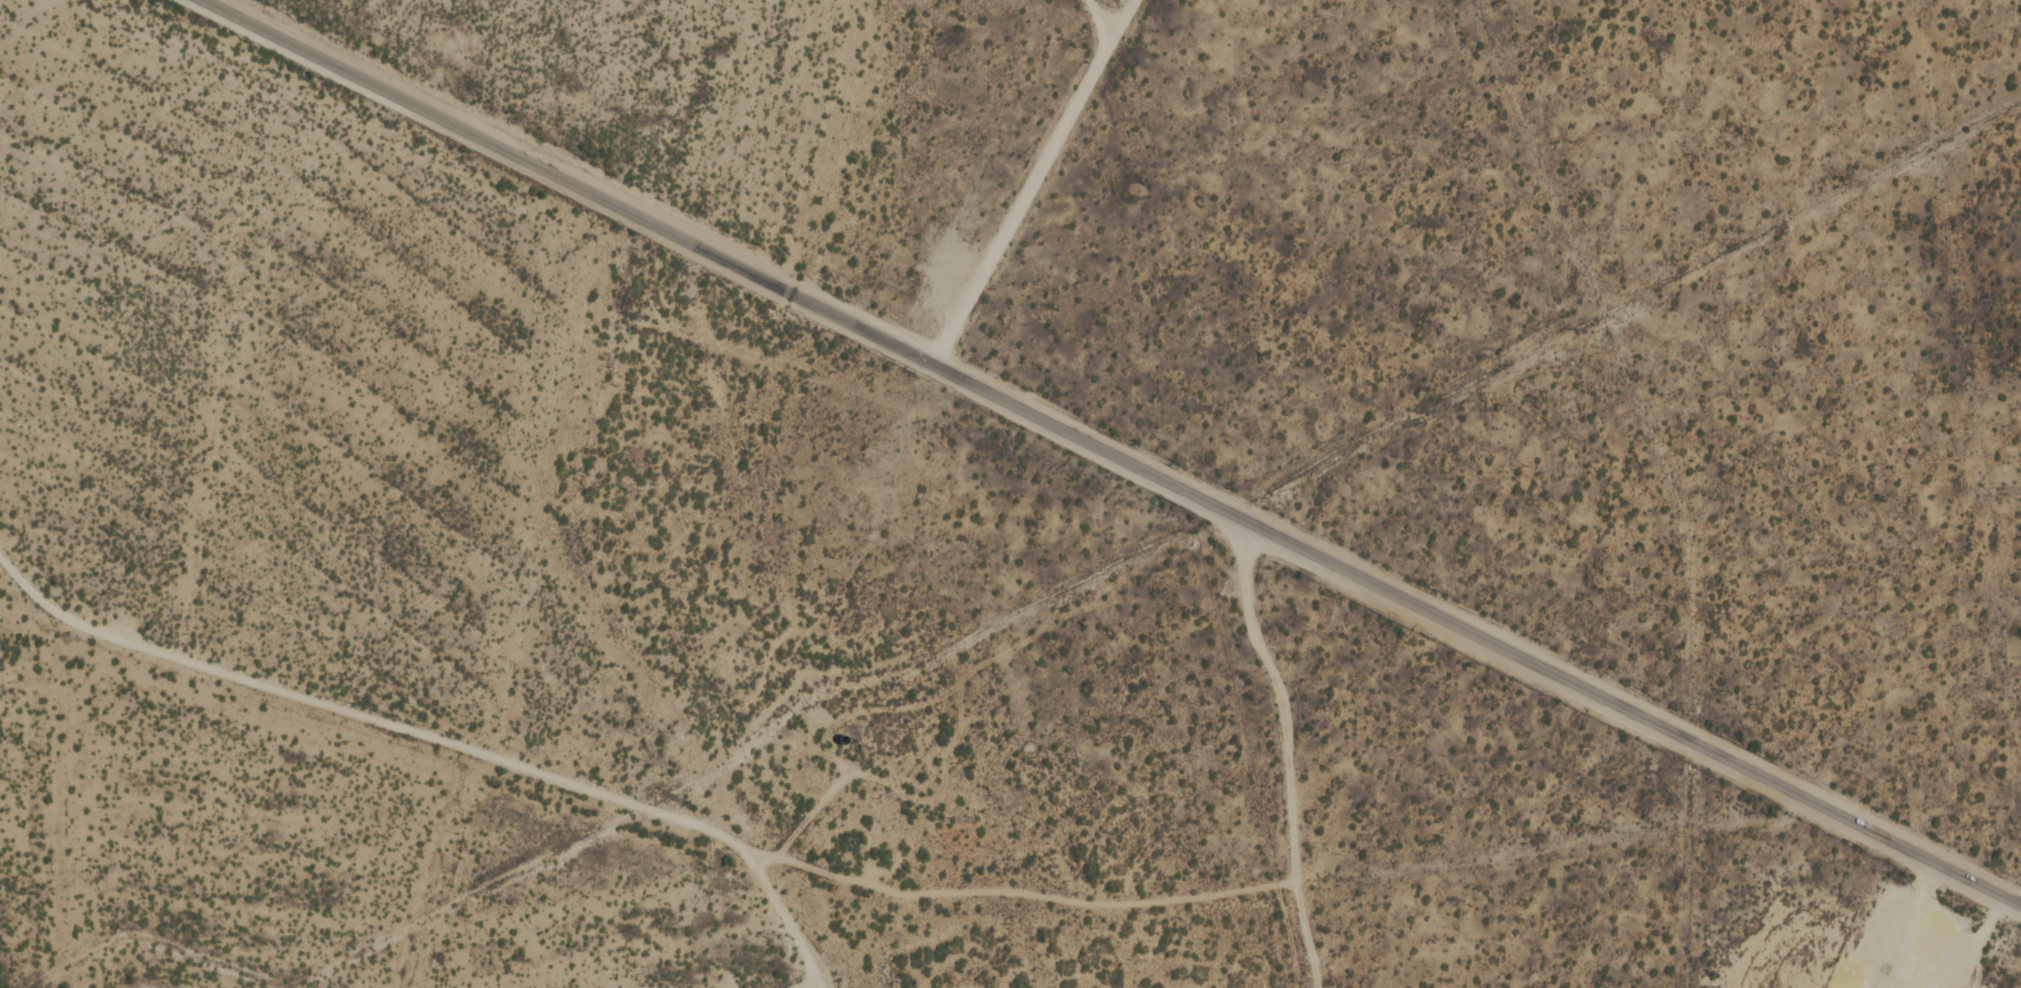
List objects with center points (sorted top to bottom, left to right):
road: (1033, 182)
road: (1112, 455)
road: (1287, 753)
road: (632, 803)
road: (815, 810)
road: (920, 810)
road: (782, 904)
road: (1982, 942)

